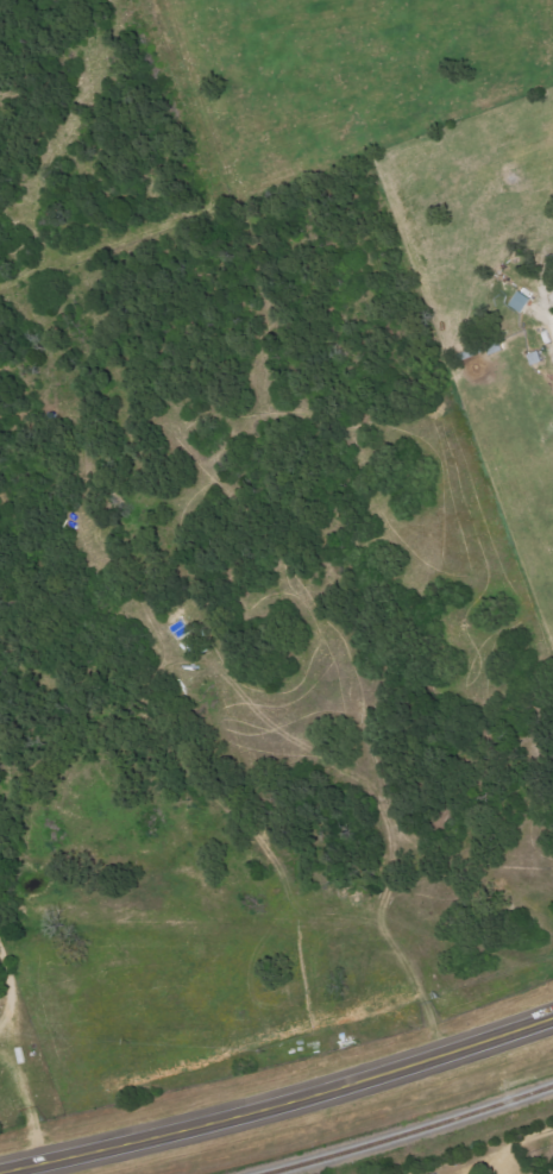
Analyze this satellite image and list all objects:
building: (523, 303)
road: (279, 1103)
railway: (409, 1132)
road: (526, 1136)
road: (480, 1157)
road: (497, 1160)

